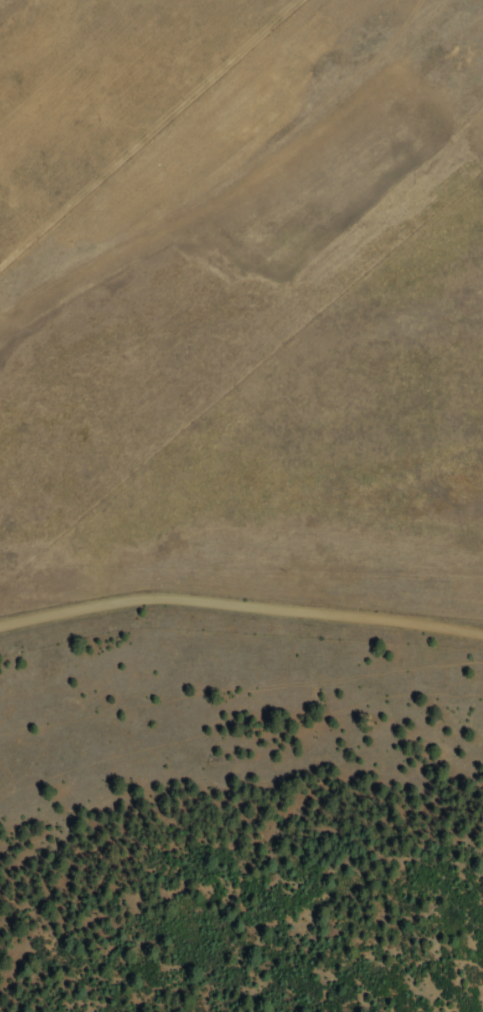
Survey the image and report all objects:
road: (240, 606)

